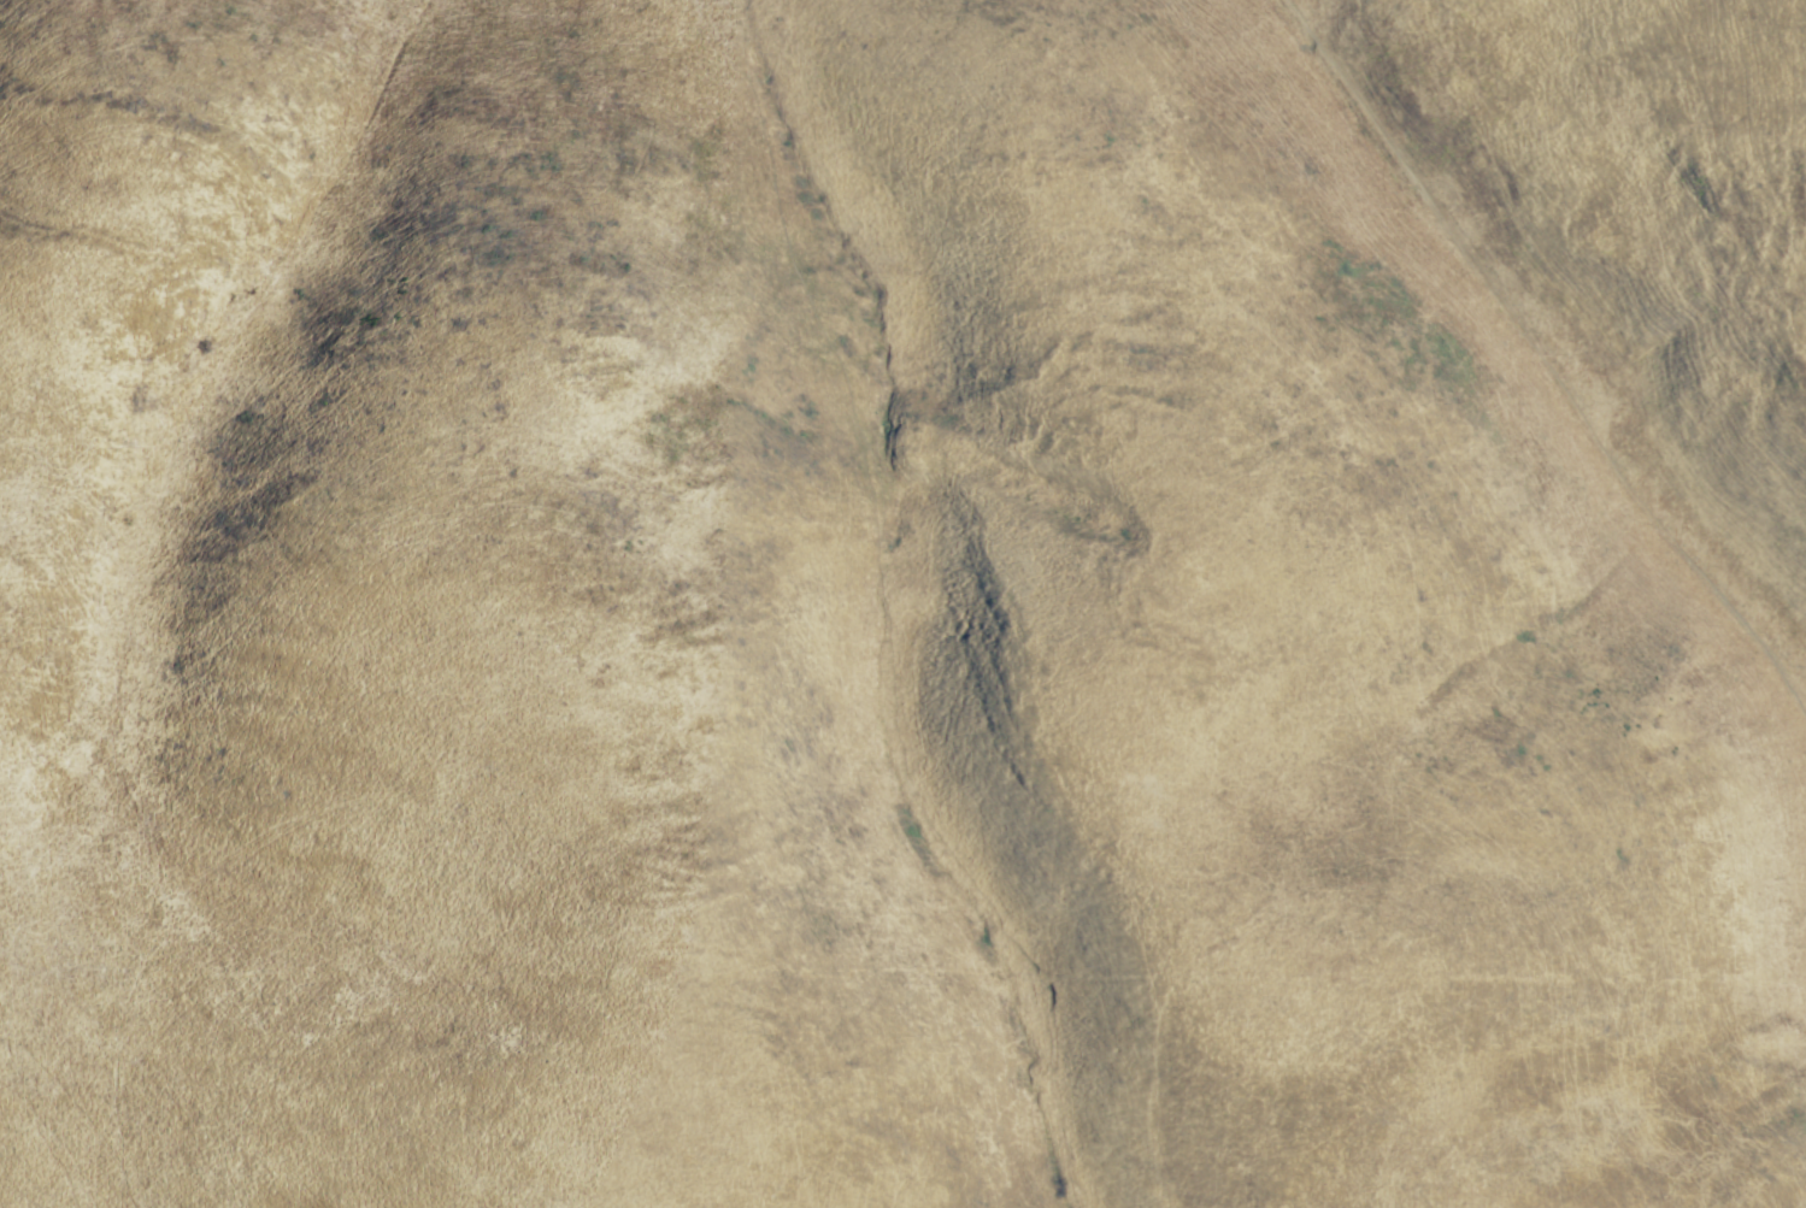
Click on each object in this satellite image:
road: (1469, 252)

